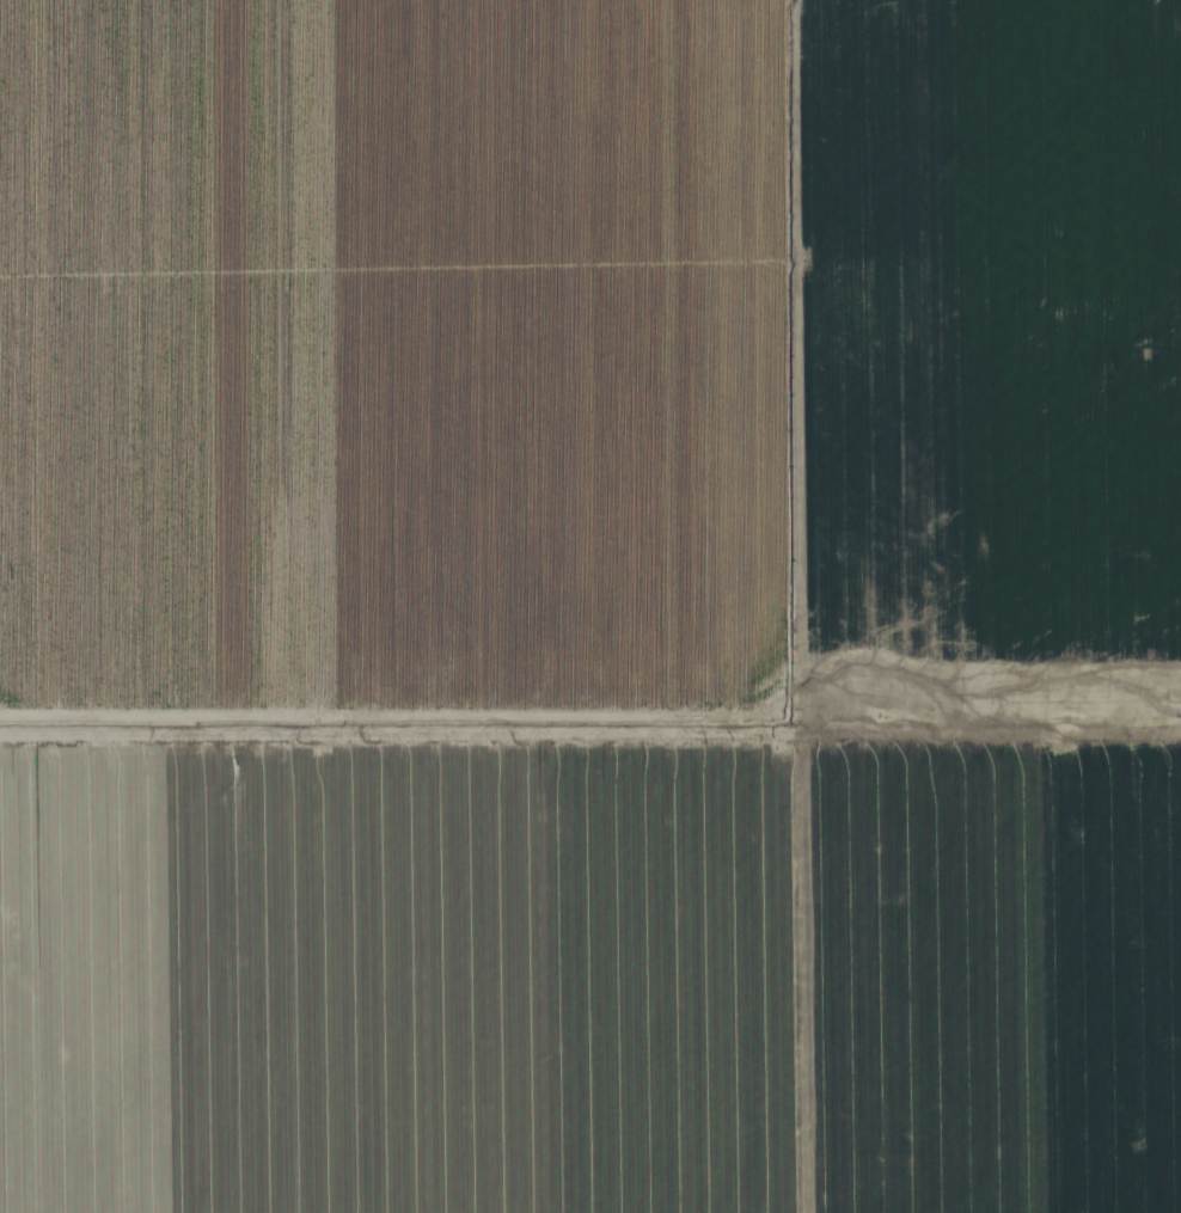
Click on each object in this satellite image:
crop: (1008, 325)
crop: (400, 372)
road: (776, 406)
building: (877, 572)
crop: (399, 979)
crop: (990, 980)

